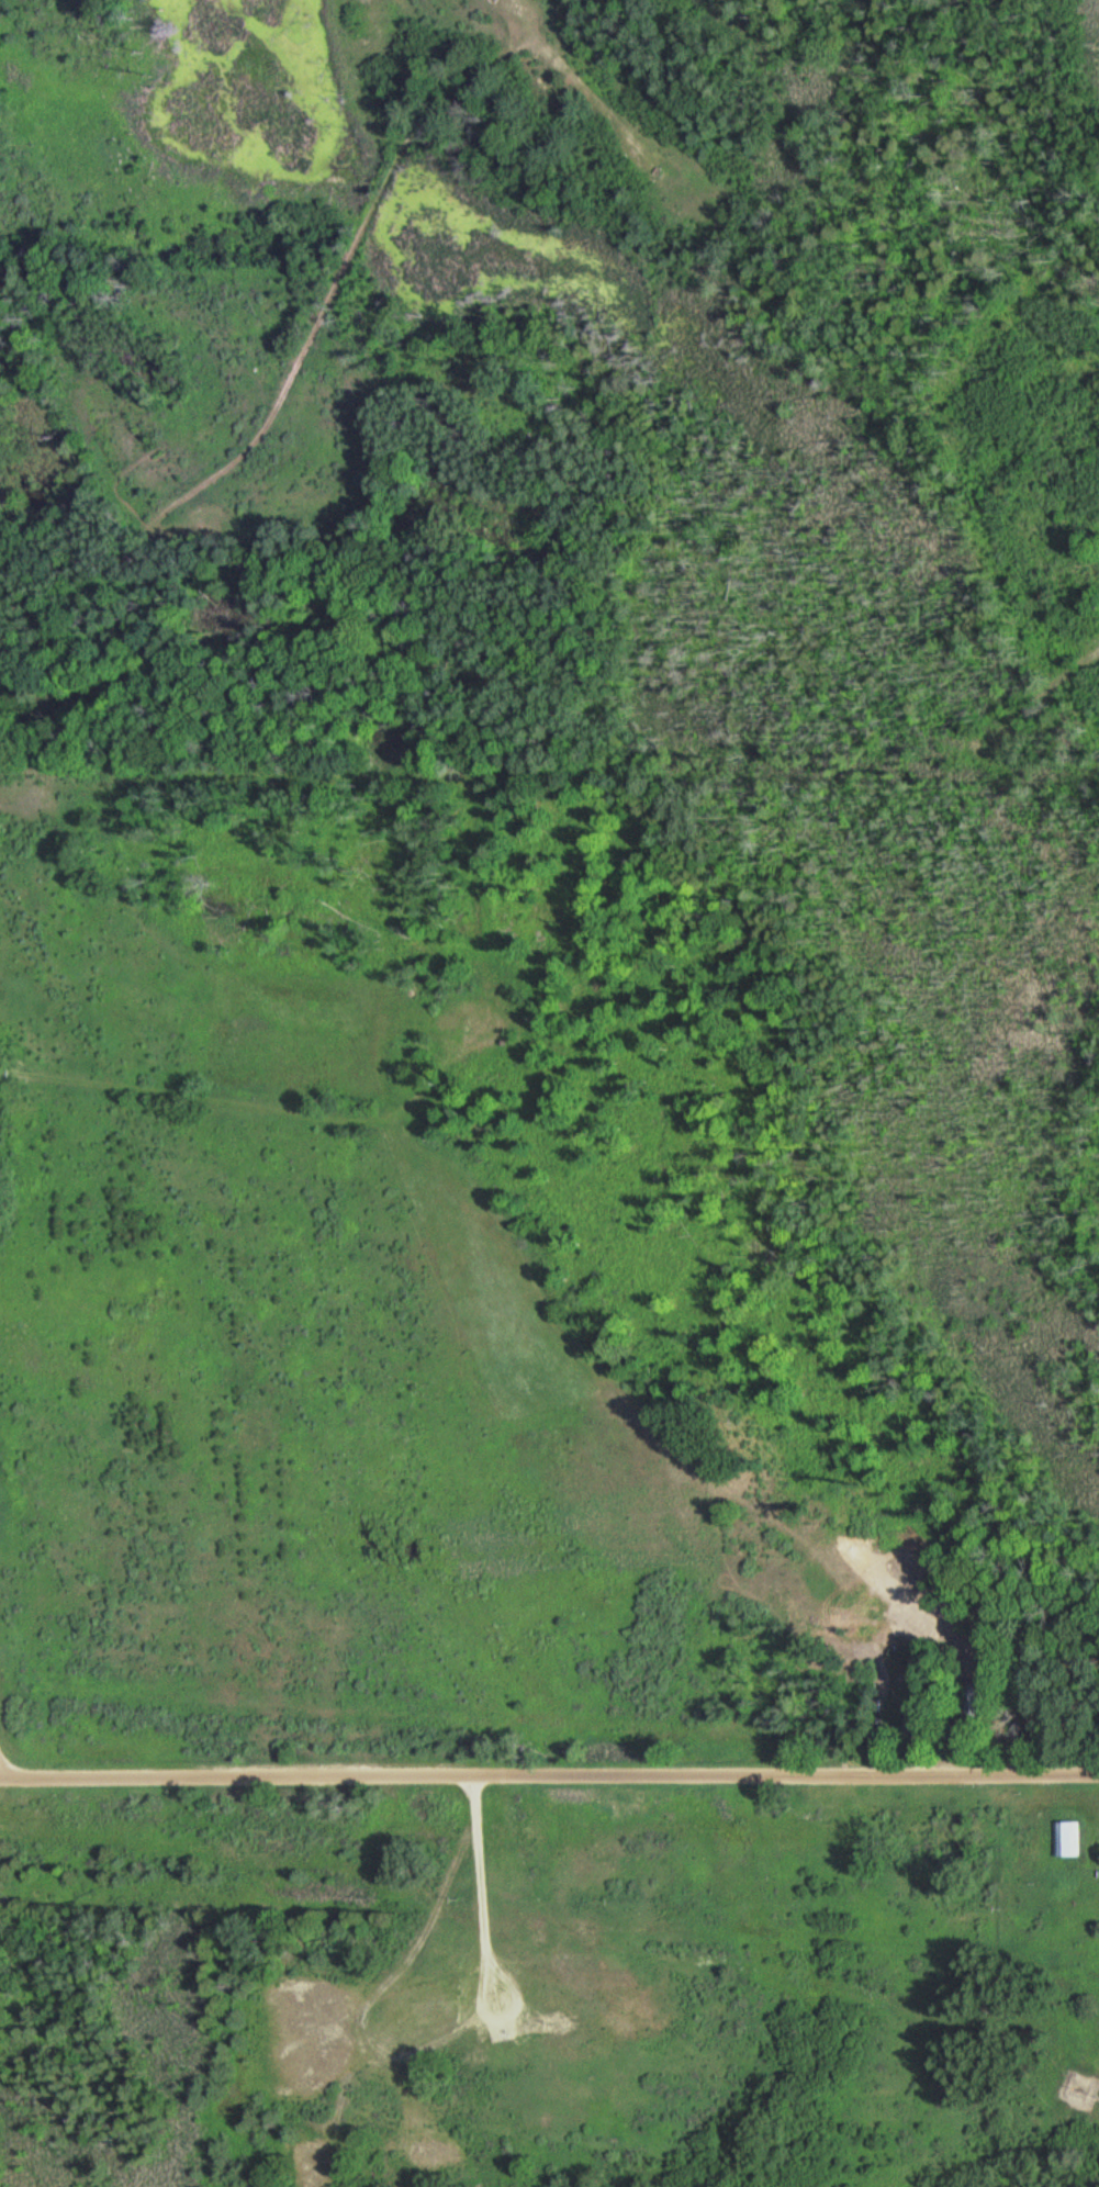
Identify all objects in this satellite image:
road: (310, 355)
road: (1032, 704)
road: (225, 1095)
road: (549, 1775)
building: (1065, 1839)
building: (1097, 1875)

